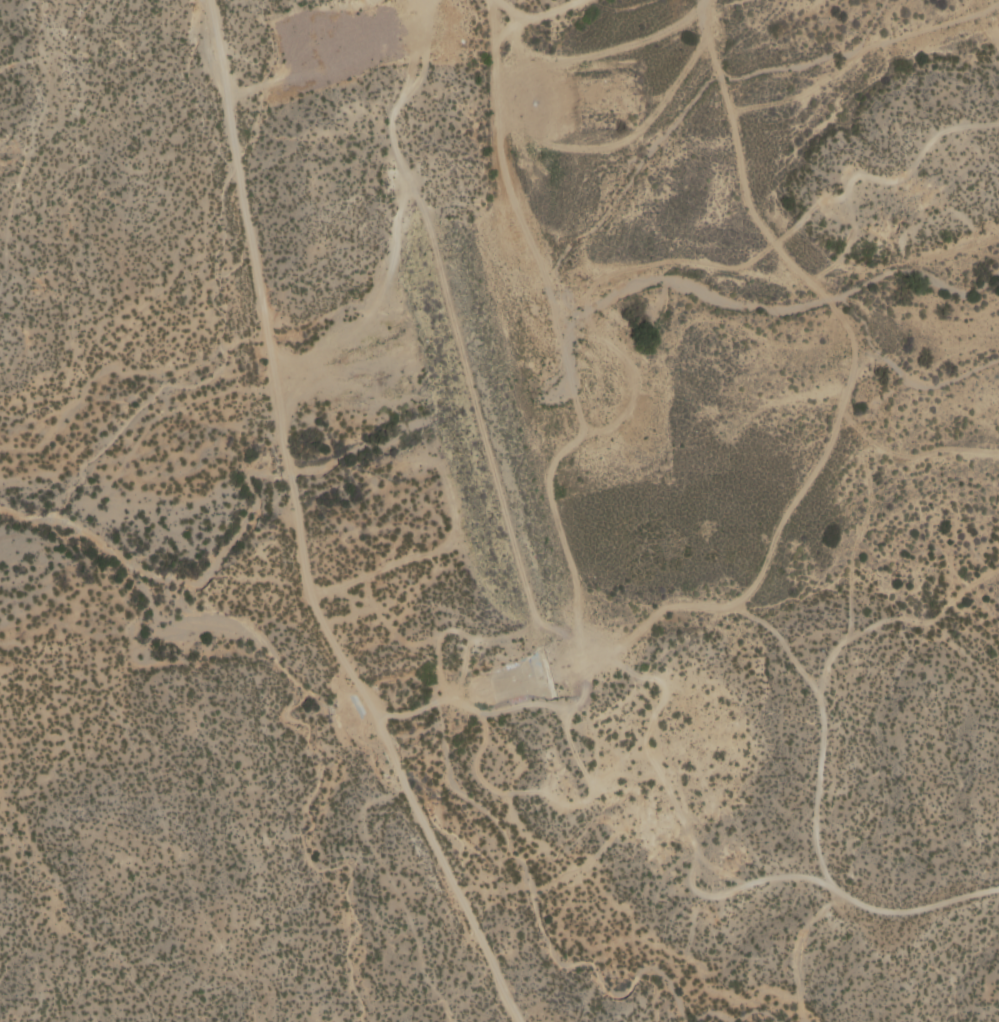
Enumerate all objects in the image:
road: (568, 3)
road: (990, 33)
road: (843, 52)
road: (741, 175)
road: (903, 175)
road: (910, 375)
dam: (496, 457)
road: (807, 479)
road: (296, 532)
road: (523, 573)
road: (899, 615)
road: (877, 907)

